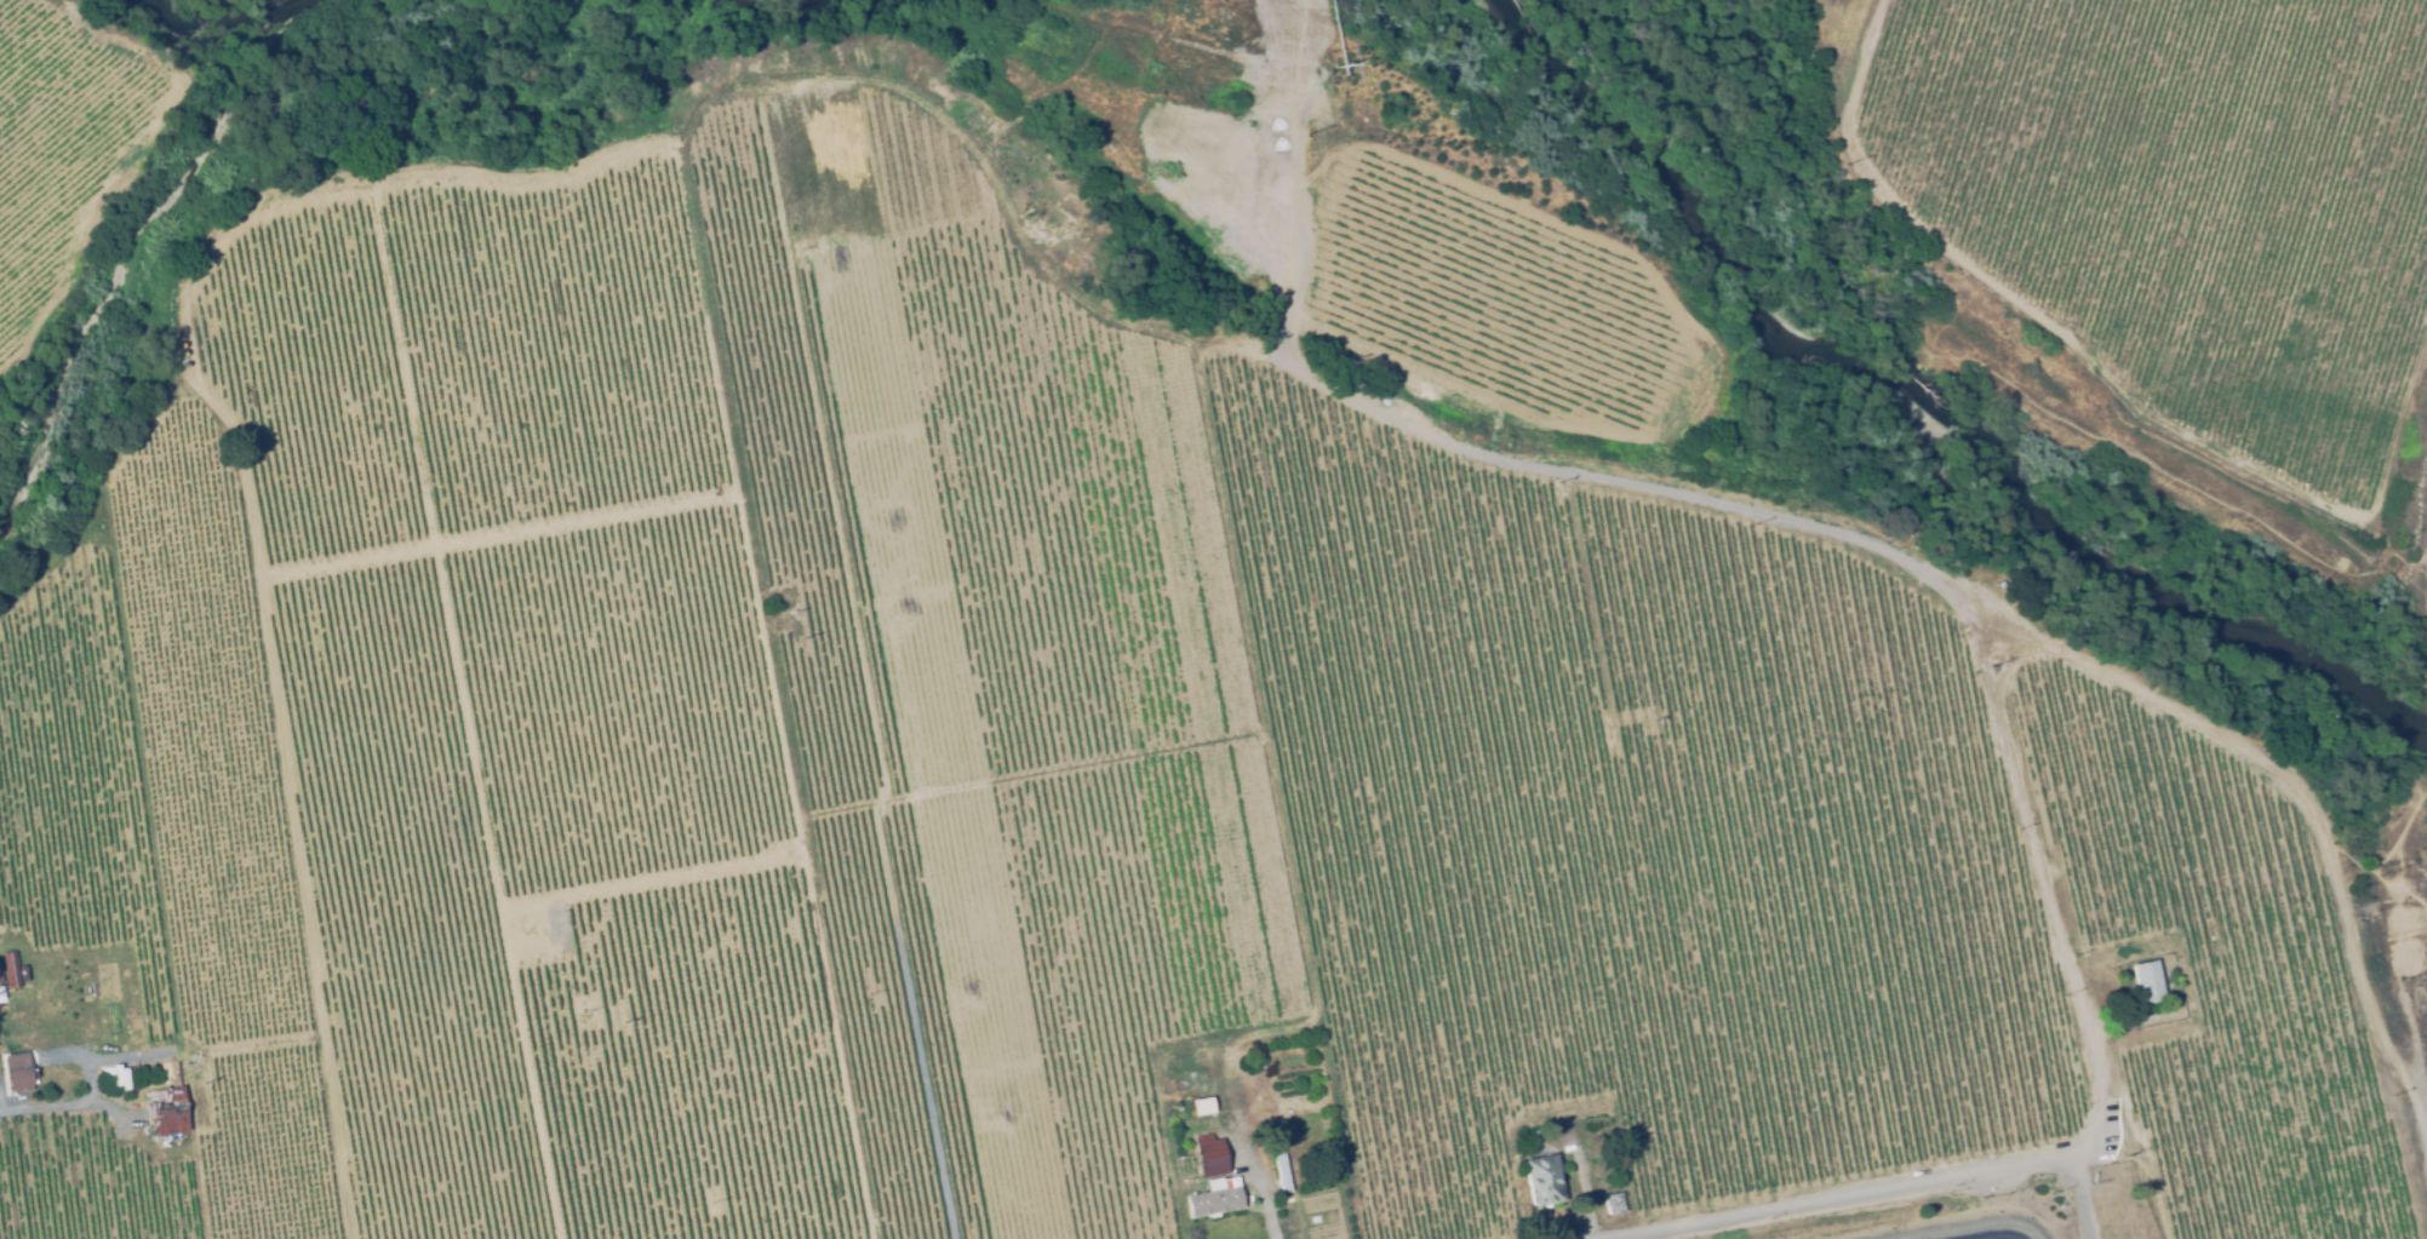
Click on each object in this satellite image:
road: (1826, 527)
road: (2426, 701)
road: (2037, 856)
road: (2403, 963)
building: (7, 970)
building: (2146, 982)
building: (16, 1073)
road: (67, 1101)
building: (166, 1113)
building: (1534, 1132)
building: (1208, 1155)
building: (1278, 1170)
building: (1540, 1181)
road: (1259, 1182)
road: (1873, 1191)
road: (2079, 1197)
building: (1213, 1199)
building: (1610, 1201)
building: (2143, 1229)

